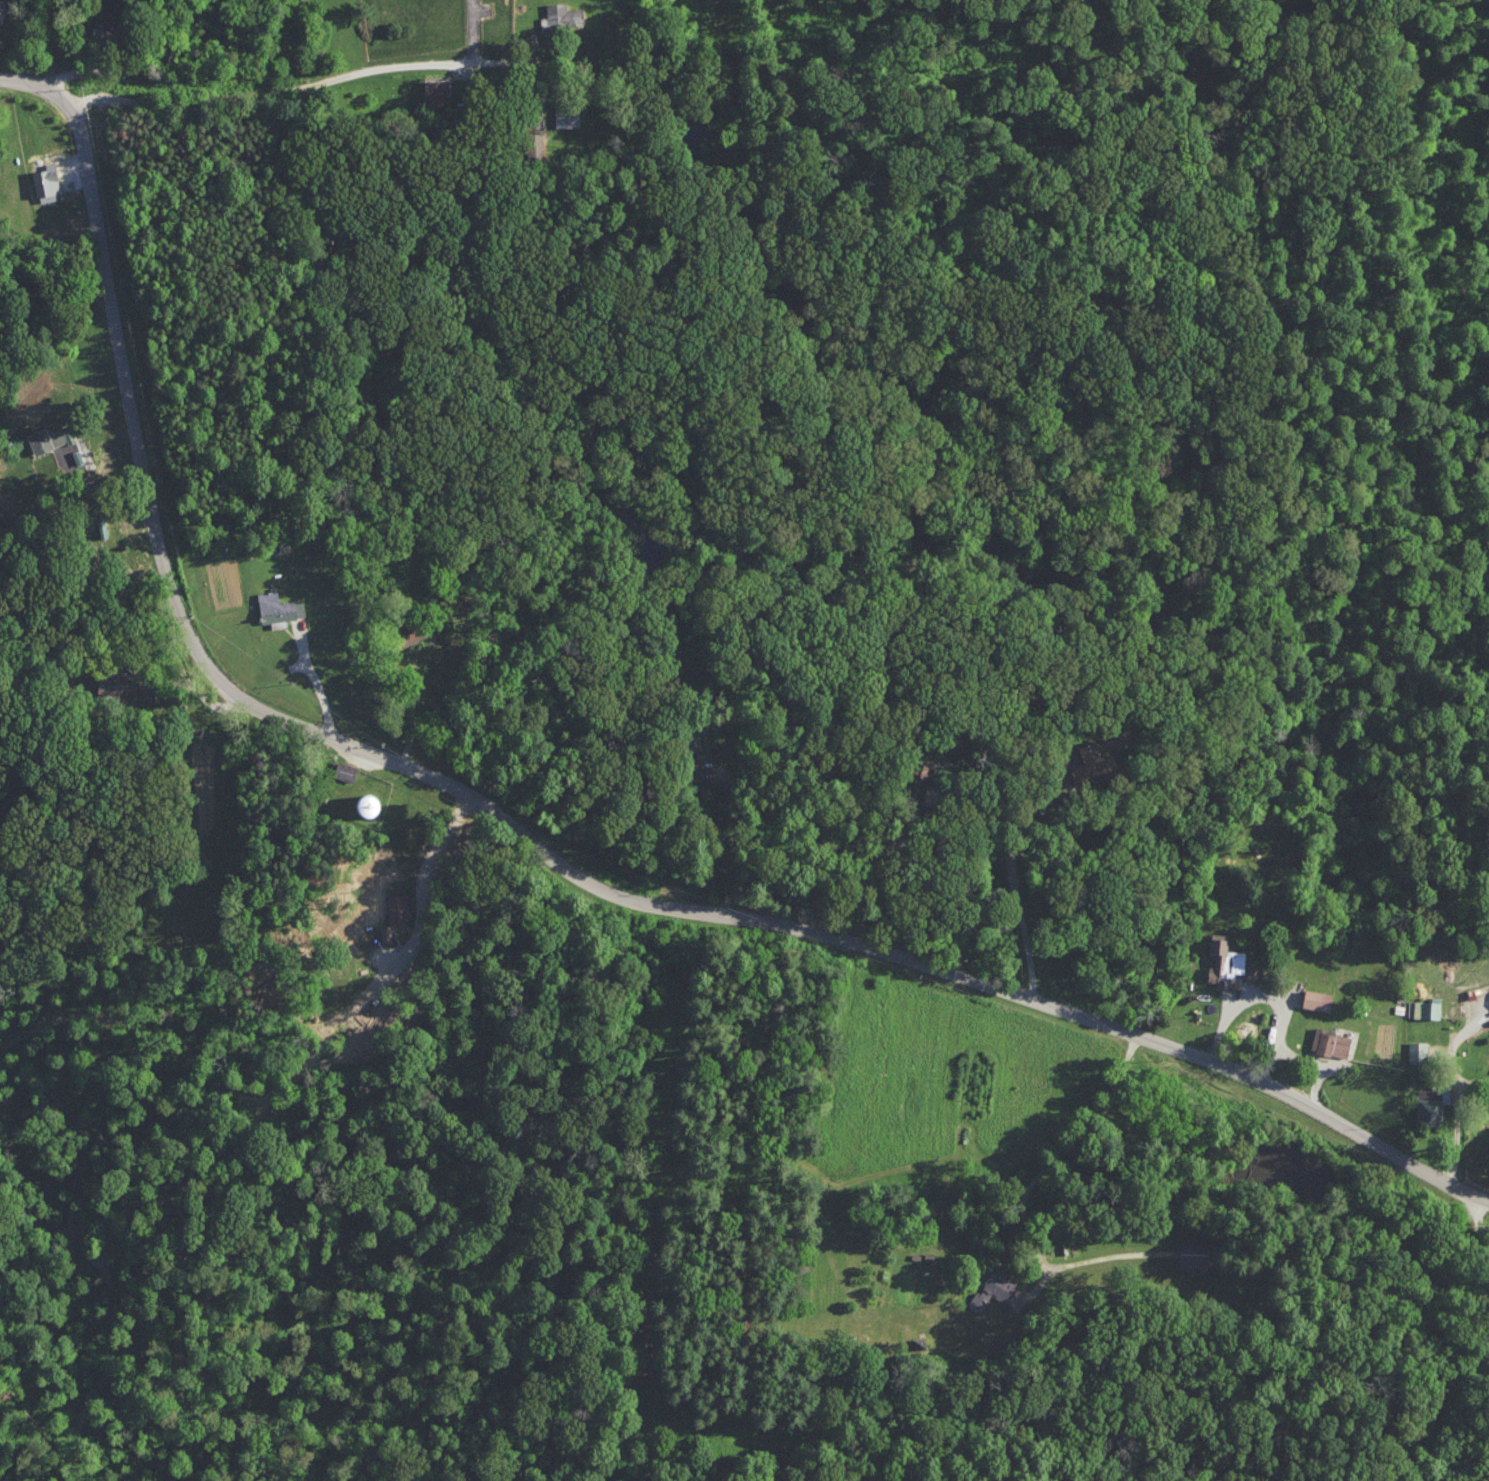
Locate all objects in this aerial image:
building: (1, 8)
road: (56, 42)
building: (437, 91)
road: (311, 92)
building: (564, 112)
road: (222, 125)
building: (46, 181)
building: (50, 437)
building: (279, 608)
road: (144, 674)
road: (310, 680)
building: (111, 684)
road: (418, 704)
building: (1098, 757)
building: (346, 771)
building: (373, 806)
road: (529, 839)
road: (726, 844)
road: (426, 871)
road: (919, 873)
road: (1012, 876)
building: (1226, 962)
building: (1253, 969)
building: (1319, 999)
building: (1424, 1008)
road: (1280, 1013)
building: (1331, 1042)
building: (1419, 1051)
road: (1451, 1062)
road: (1266, 1066)
building: (1430, 1105)
road: (1470, 1132)
road: (1062, 1154)
road: (1473, 1219)
building: (1193, 1255)
building: (994, 1290)

